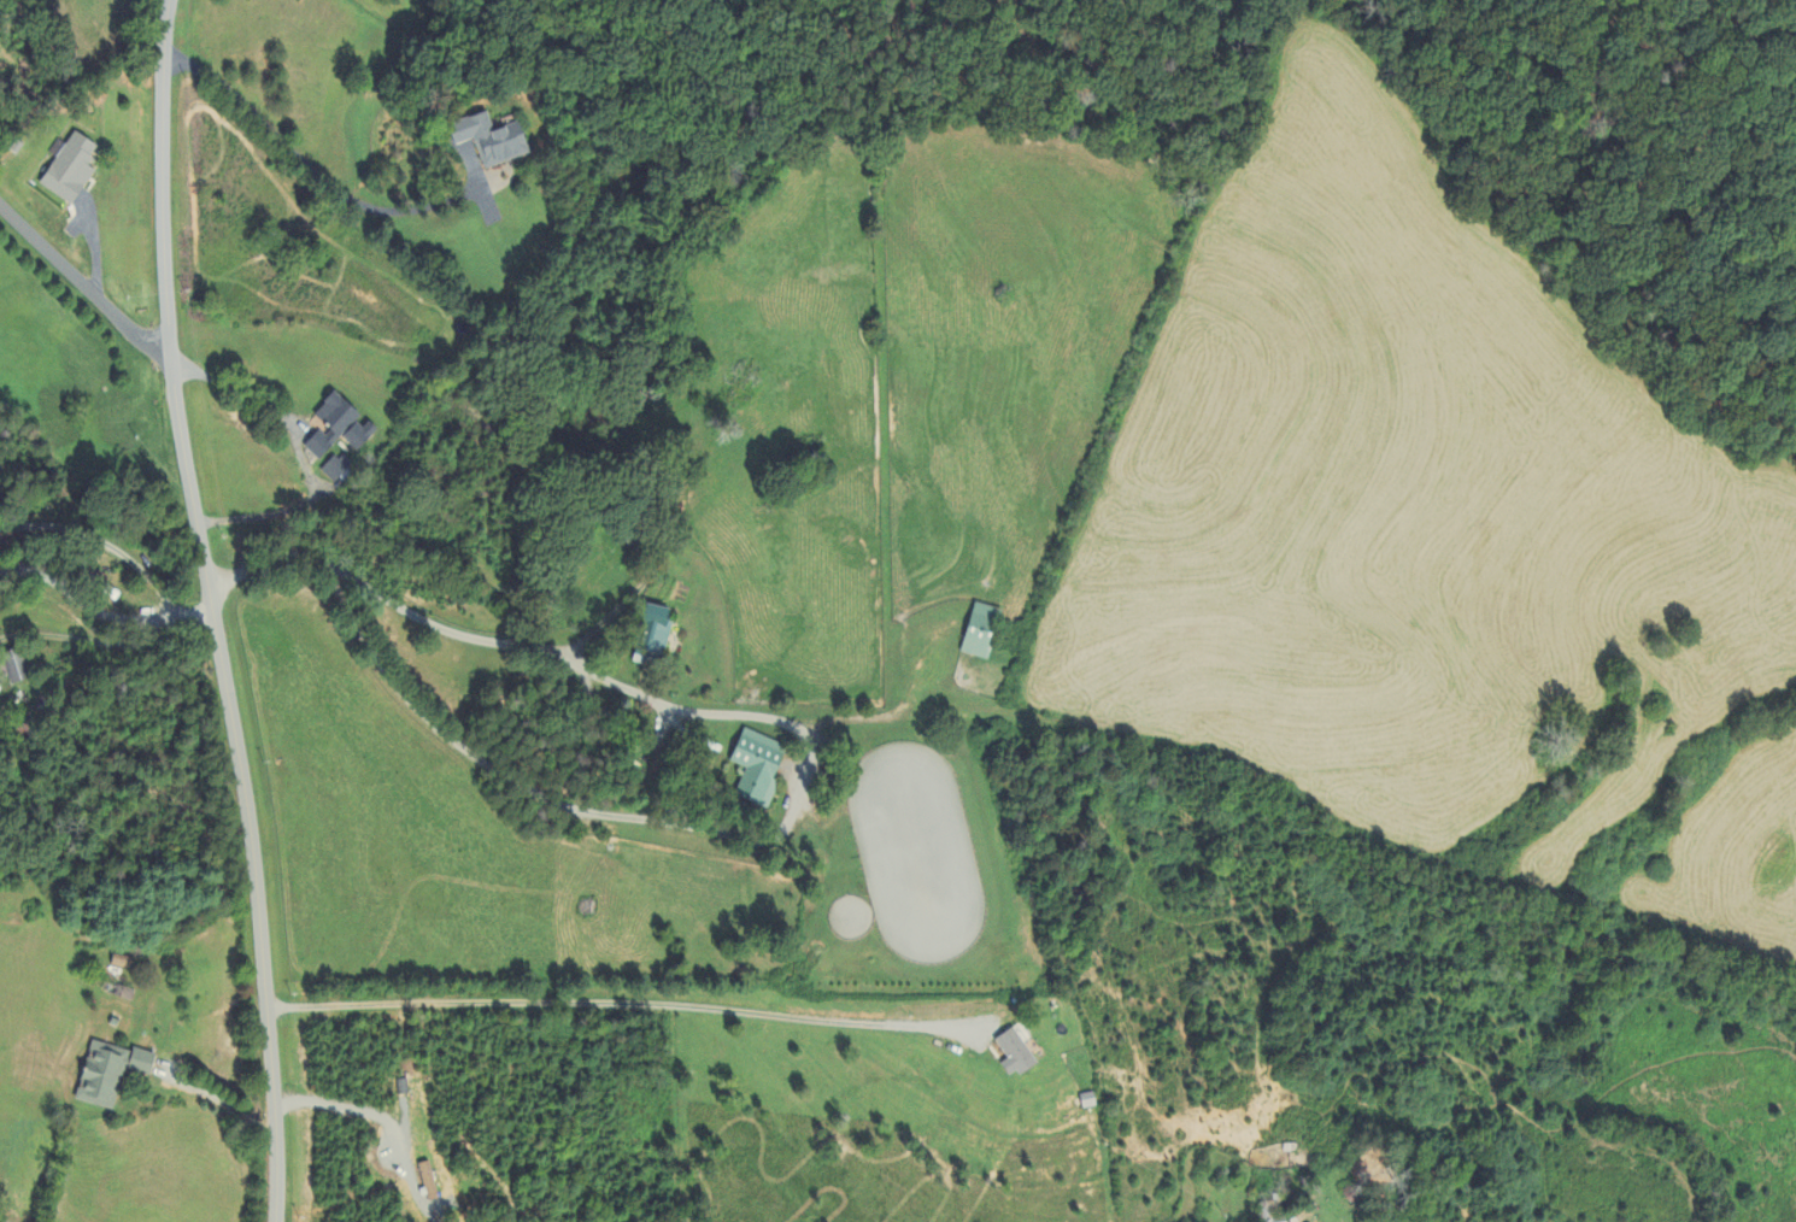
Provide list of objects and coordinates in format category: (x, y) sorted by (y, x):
building: (492, 141)
road: (307, 164)
building: (71, 171)
road: (81, 270)
building: (333, 425)
building: (362, 435)
road: (299, 454)
building: (339, 469)
road: (105, 544)
road: (213, 611)
road: (101, 613)
building: (657, 629)
building: (982, 633)
road: (505, 638)
building: (18, 669)
building: (759, 768)
building: (123, 964)
road: (618, 1007)
building: (1015, 1054)
building: (111, 1075)
road: (217, 1099)
road: (376, 1115)
building: (429, 1182)
building: (1275, 1212)

